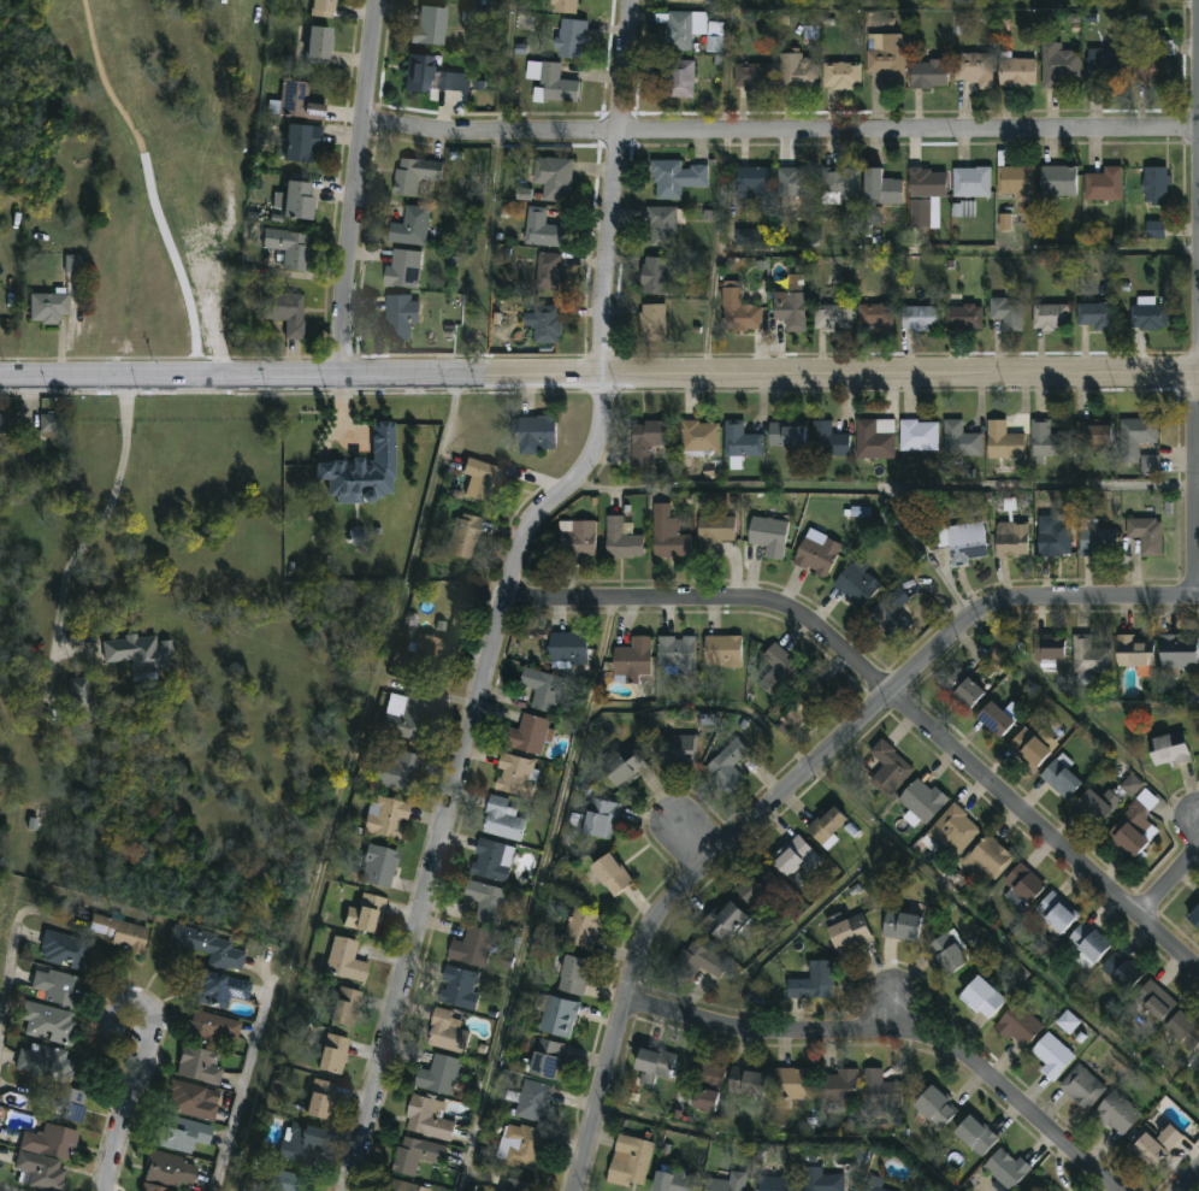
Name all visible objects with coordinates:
building: (686, 1)
building: (563, 6)
building: (320, 8)
building: (430, 26)
building: (683, 30)
building: (714, 37)
building: (571, 41)
building: (317, 46)
building: (1165, 48)
building: (886, 59)
road: (506, 65)
building: (1058, 65)
building: (974, 70)
building: (1105, 71)
building: (1153, 71)
building: (796, 73)
building: (1016, 73)
building: (928, 75)
building: (433, 77)
building: (754, 77)
building: (840, 77)
building: (677, 79)
building: (556, 86)
building: (297, 102)
road: (780, 128)
building: (300, 143)
park: (125, 173)
building: (414, 176)
building: (554, 179)
building: (675, 179)
building: (1058, 182)
building: (796, 183)
building: (970, 183)
building: (1016, 183)
building: (754, 184)
building: (927, 184)
building: (1103, 185)
road: (613, 187)
building: (837, 187)
road: (1198, 187)
road: (358, 188)
building: (1156, 188)
road: (228, 189)
building: (881, 190)
building: (295, 201)
building: (963, 210)
building: (919, 216)
building: (1005, 222)
building: (411, 228)
building: (662, 228)
building: (1156, 229)
building: (542, 230)
building: (748, 237)
building: (289, 248)
road: (483, 253)
building: (73, 263)
building: (402, 271)
building: (549, 272)
building: (660, 278)
building: (49, 306)
building: (738, 312)
building: (791, 312)
building: (285, 313)
building: (1008, 316)
building: (1094, 317)
building: (1148, 318)
building: (396, 319)
building: (832, 319)
building: (875, 319)
building: (963, 319)
building: (1050, 319)
building: (919, 320)
building: (652, 324)
building: (548, 325)
road: (598, 376)
building: (49, 421)
building: (4, 423)
building: (536, 430)
building: (1140, 430)
building: (1094, 432)
building: (787, 434)
building: (701, 435)
building: (919, 435)
building: (875, 437)
building: (648, 438)
building: (961, 438)
building: (742, 440)
building: (828, 440)
building: (1050, 440)
building: (1004, 441)
building: (1151, 464)
building: (365, 470)
building: (484, 476)
road: (886, 488)
road: (1197, 488)
road: (104, 518)
building: (715, 529)
building: (668, 532)
building: (769, 533)
building: (1147, 533)
building: (465, 535)
building: (1055, 535)
building: (578, 537)
building: (621, 538)
building: (1012, 538)
building: (1097, 538)
building: (965, 542)
building: (817, 555)
building: (858, 580)
building: (893, 613)
building: (568, 645)
building: (1049, 647)
building: (723, 649)
building: (429, 650)
building: (1136, 650)
building: (1180, 650)
building: (141, 651)
building: (678, 651)
building: (1091, 654)
building: (633, 658)
road: (1027, 665)
building: (779, 670)
building: (542, 686)
building: (963, 688)
road: (893, 694)
building: (81, 698)
road: (1138, 706)
building: (404, 713)
building: (994, 717)
building: (528, 733)
building: (1029, 747)
building: (1169, 747)
building: (678, 748)
building: (622, 762)
building: (727, 765)
building: (890, 767)
building: (397, 770)
road: (463, 773)
building: (515, 773)
building: (1061, 777)
road: (352, 783)
building: (1132, 785)
road: (795, 788)
building: (922, 798)
building: (1097, 803)
building: (388, 815)
building: (503, 816)
building: (599, 816)
building: (827, 821)
building: (953, 829)
road: (690, 835)
building: (1128, 836)
building: (988, 856)
building: (494, 859)
road: (911, 859)
building: (797, 860)
building: (379, 863)
road: (1170, 869)
building: (612, 872)
building: (1024, 880)
building: (758, 886)
road: (534, 896)
building: (486, 900)
building: (370, 909)
building: (1057, 910)
building: (1194, 914)
building: (726, 920)
building: (902, 924)
building: (584, 927)
building: (849, 928)
building: (112, 931)
building: (1088, 939)
building: (472, 945)
building: (206, 947)
building: (61, 949)
building: (949, 950)
building: (347, 957)
building: (698, 960)
building: (1122, 968)
building: (574, 973)
building: (814, 979)
building: (52, 986)
building: (460, 986)
building: (213, 987)
road: (10, 990)
building: (982, 996)
building: (1154, 998)
road: (138, 1000)
building: (344, 1004)
building: (559, 1014)
building: (43, 1022)
building: (1018, 1024)
building: (1068, 1024)
road: (104, 1027)
building: (1185, 1027)
building: (209, 1028)
building: (447, 1030)
road: (152, 1038)
road: (897, 1042)
building: (332, 1053)
building: (1052, 1054)
building: (547, 1057)
road: (143, 1060)
building: (655, 1061)
building: (42, 1062)
building: (1198, 1063)
building: (195, 1065)
road: (114, 1067)
building: (439, 1073)
road: (135, 1074)
building: (746, 1080)
building: (793, 1081)
building: (703, 1083)
building: (838, 1084)
building: (879, 1086)
building: (1083, 1086)
road: (244, 1090)
building: (320, 1097)
building: (534, 1099)
building: (188, 1101)
building: (57, 1102)
building: (935, 1105)
building: (1117, 1112)
building: (429, 1116)
building: (176, 1132)
building: (975, 1132)
road: (116, 1136)
road: (781, 1139)
building: (1154, 1139)
building: (301, 1140)
building: (520, 1144)
building: (415, 1154)
building: (41, 1155)
building: (631, 1160)
building: (1008, 1167)
building: (166, 1168)
building: (822, 1179)
building: (288, 1180)
building: (673, 1180)
building: (727, 1181)
building: (775, 1181)
building: (875, 1183)
road: (1192, 1183)
building: (408, 1186)
road: (11, 1187)
building: (152, 1189)
building: (513, 1189)

